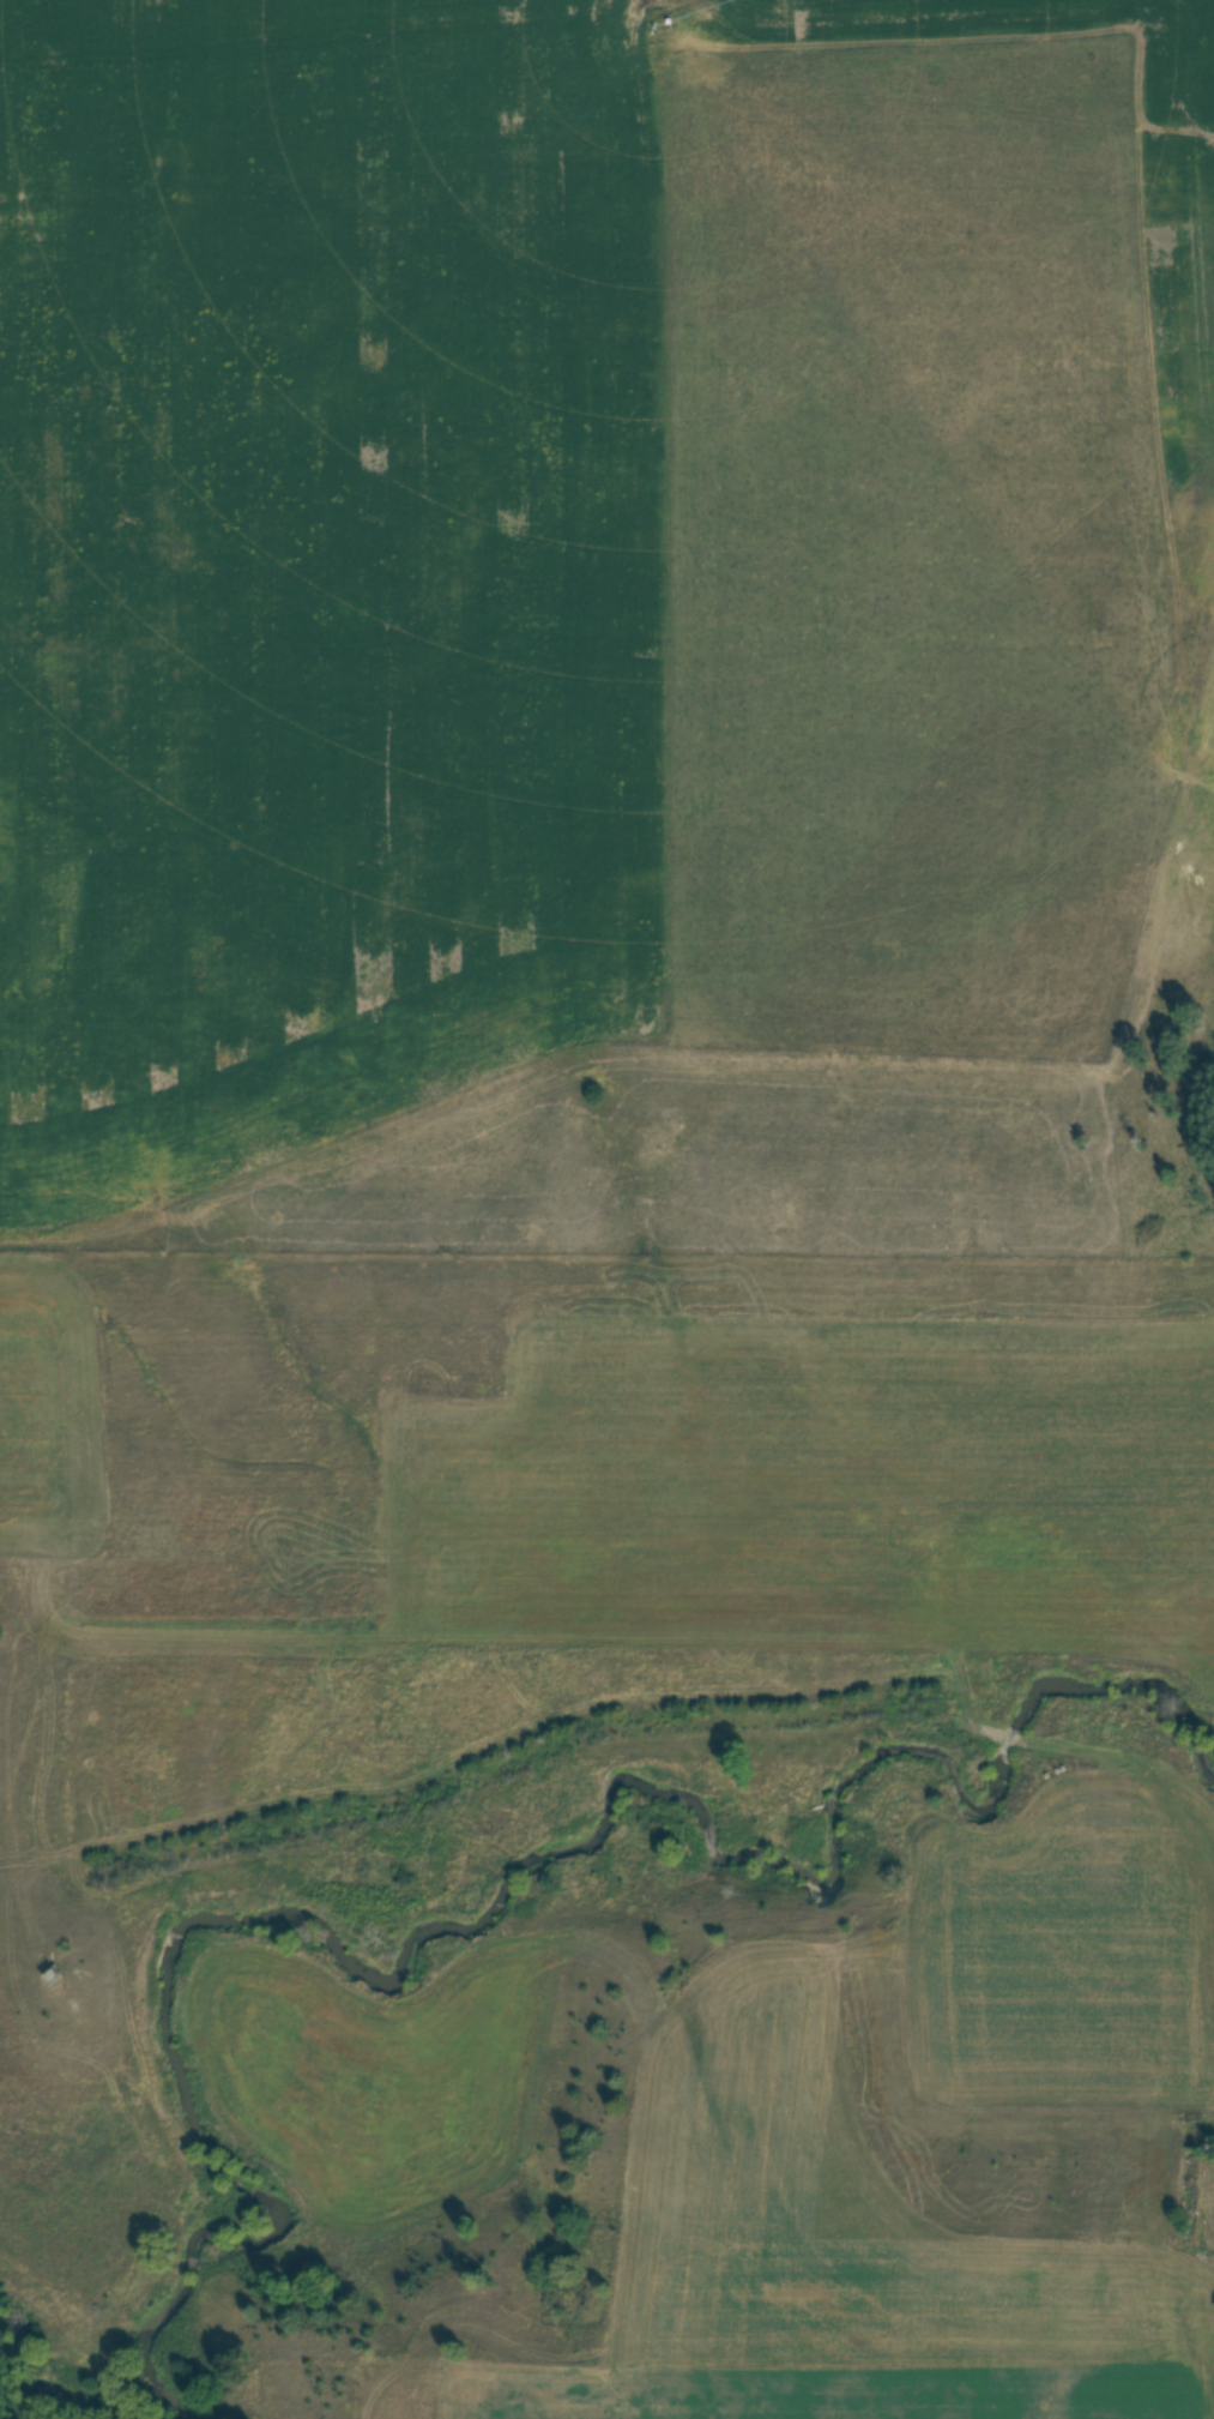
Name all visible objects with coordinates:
road: (875, 2143)

